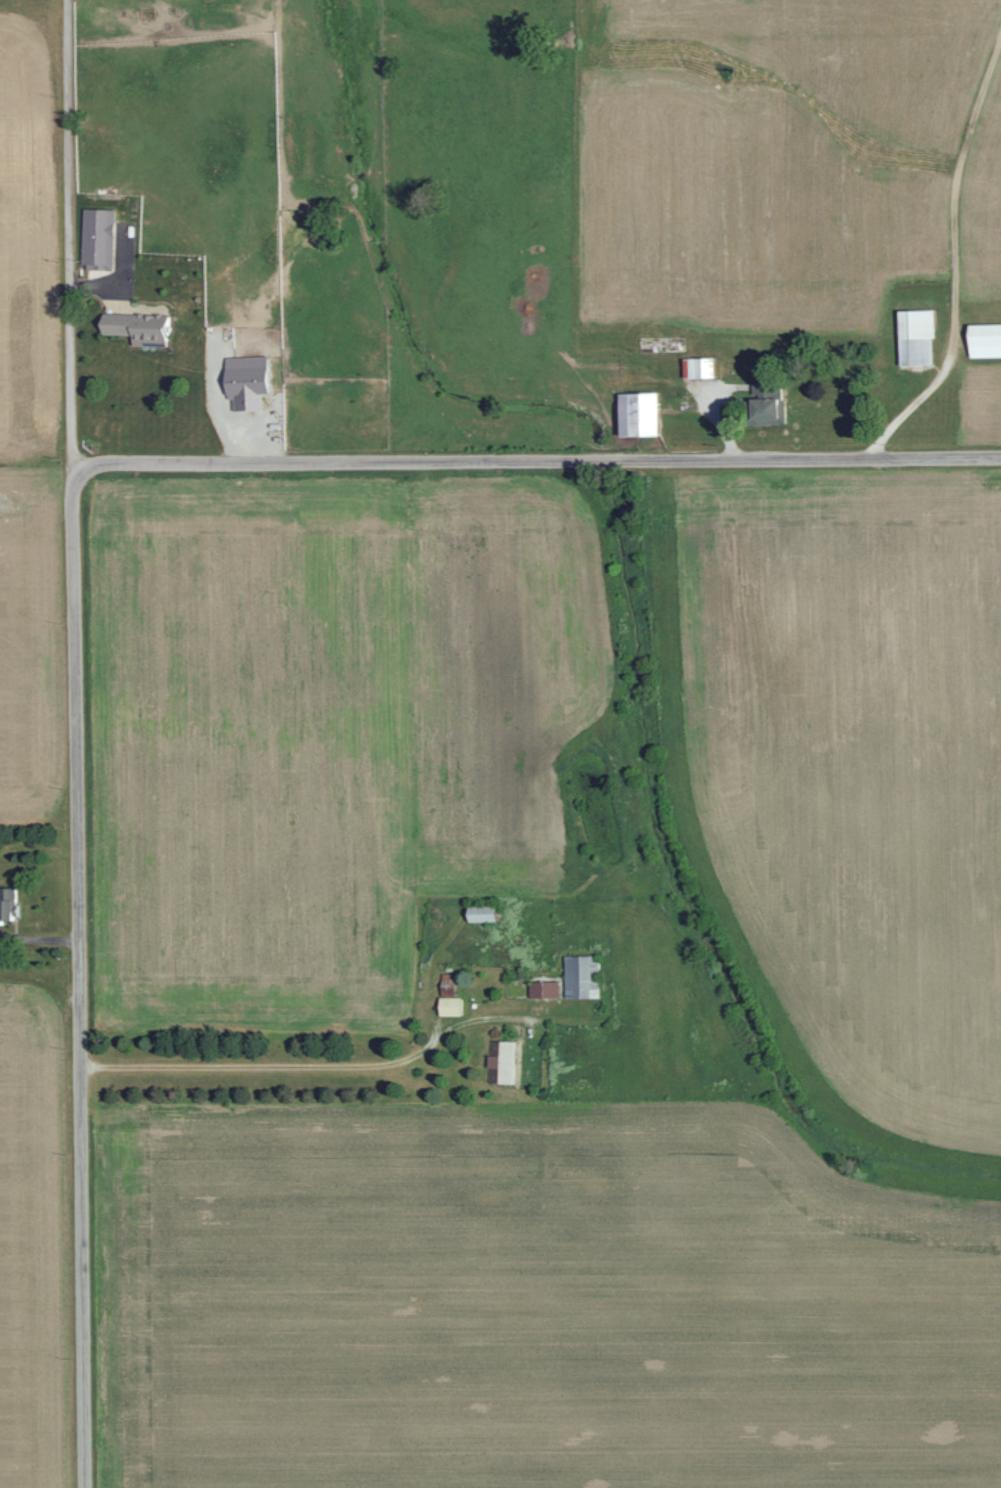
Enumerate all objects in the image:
building: (96, 239)
road: (70, 241)
building: (135, 327)
building: (913, 337)
building: (984, 340)
building: (696, 367)
building: (243, 381)
building: (761, 406)
building: (635, 414)
road: (532, 460)
building: (6, 903)
building: (478, 914)
building: (579, 977)
building: (446, 980)
road: (79, 985)
building: (542, 989)
building: (447, 1006)
building: (499, 1062)

